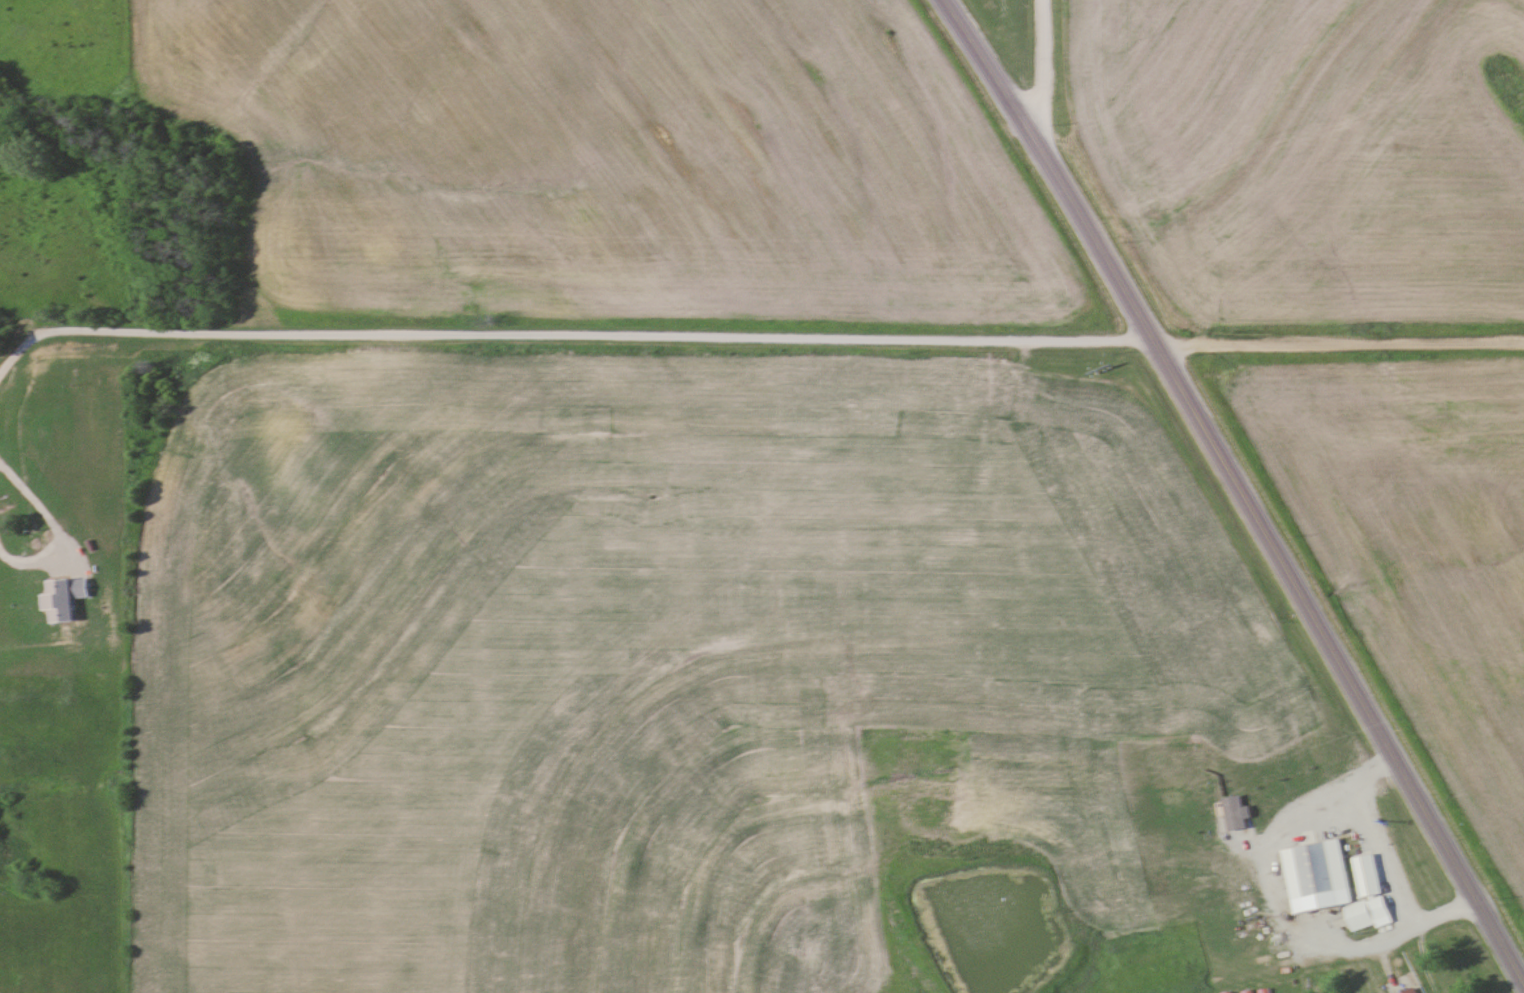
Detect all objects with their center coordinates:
road: (1041, 76)
road: (572, 331)
road: (1340, 345)
road: (19, 360)
road: (1238, 486)
building: (25, 547)
building: (1026, 783)
building: (1314, 875)
building: (1366, 895)
road: (1409, 933)
building: (1409, 990)

